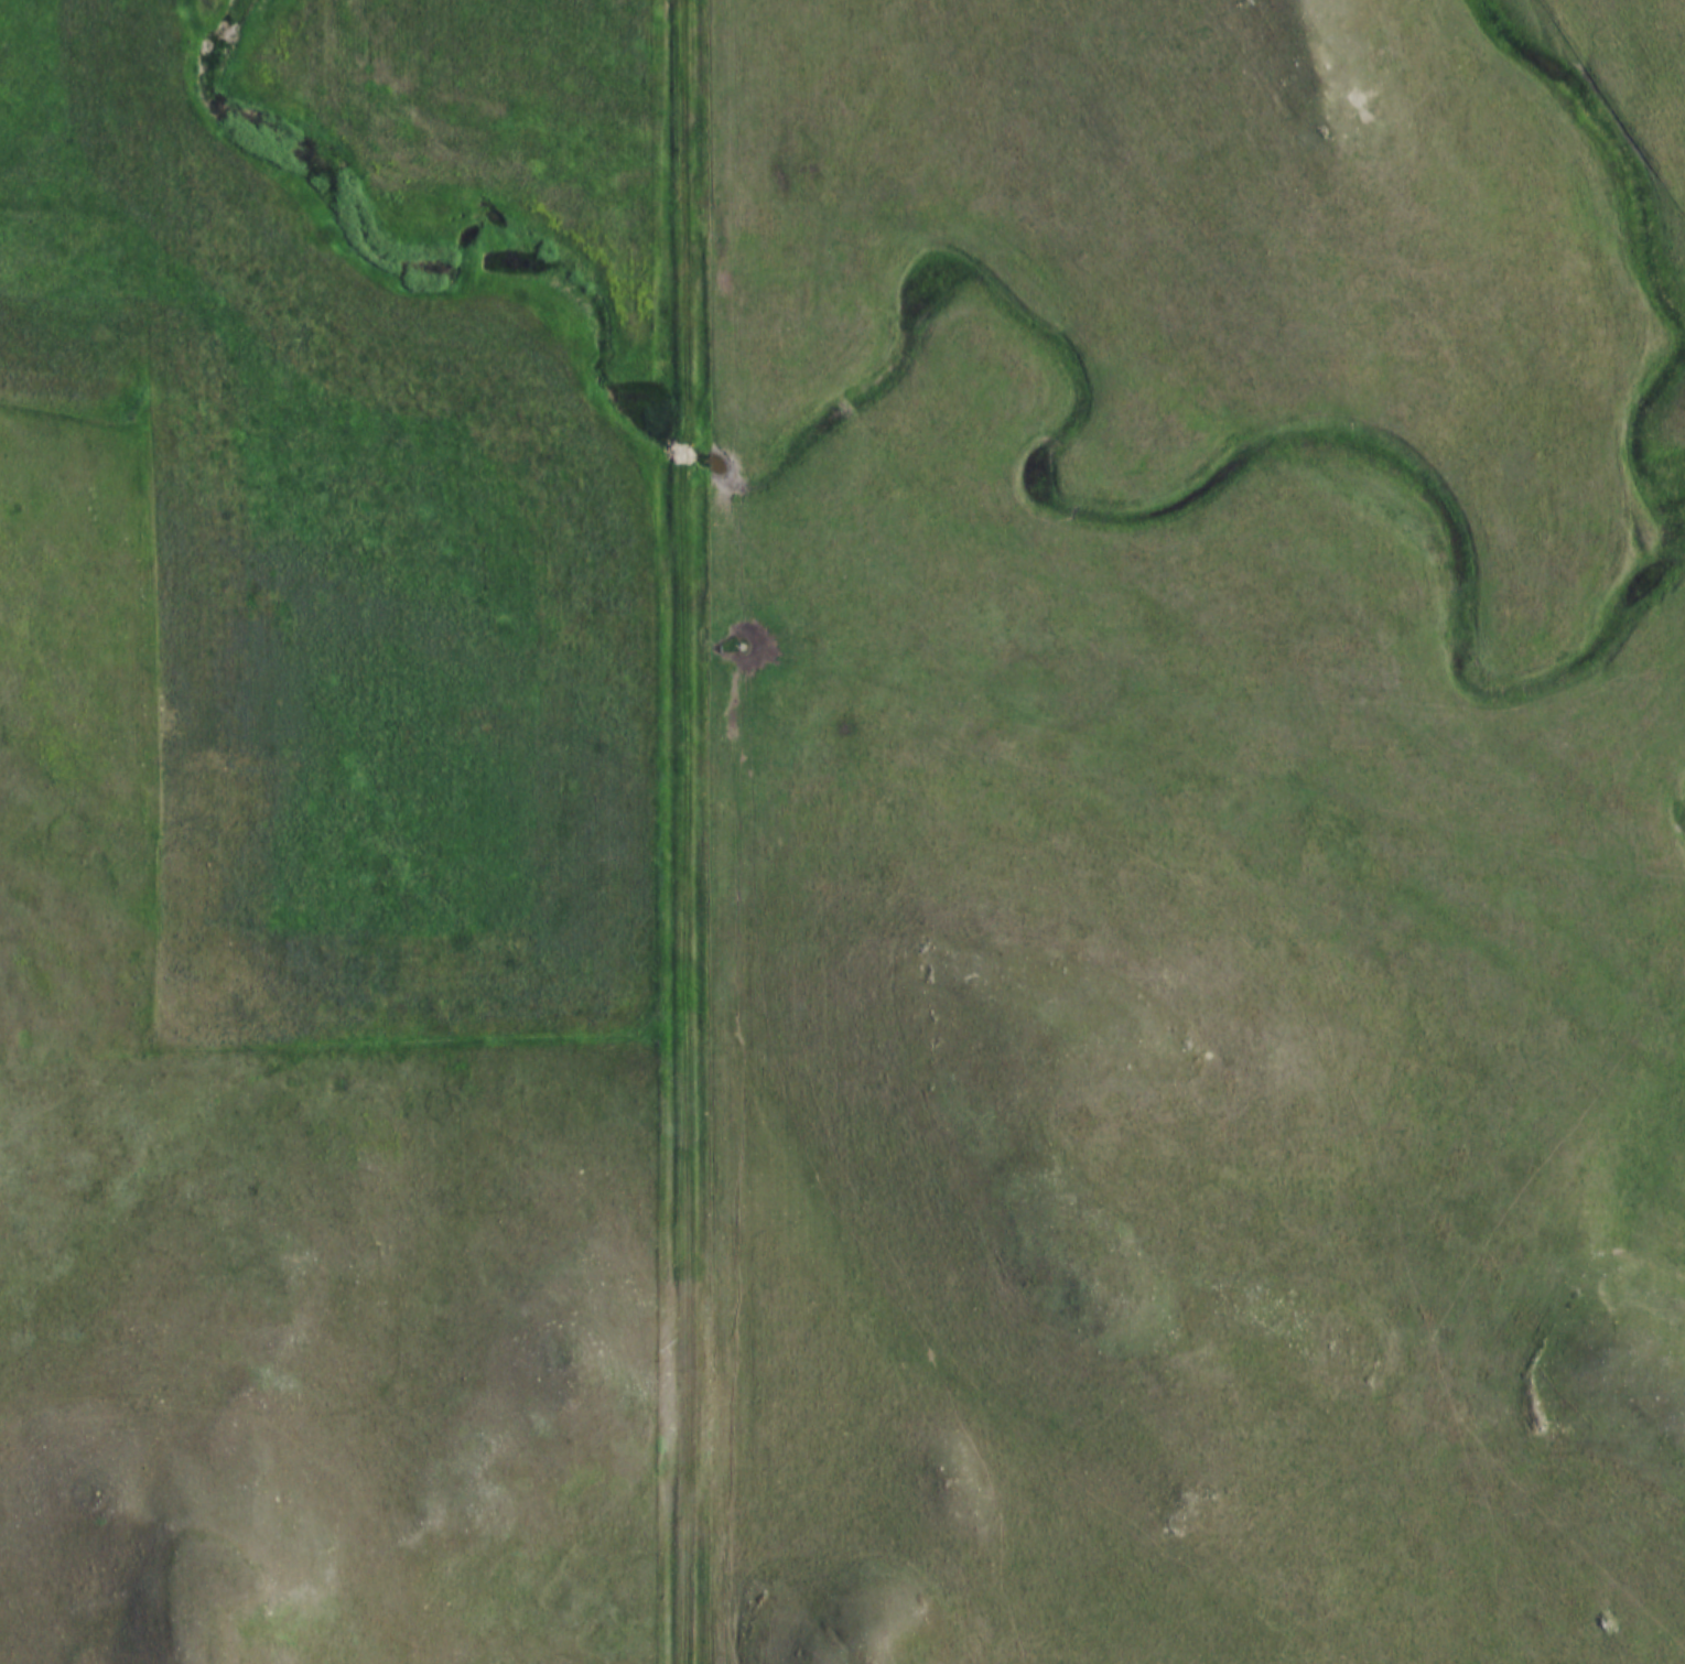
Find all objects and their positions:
road: (690, 832)

